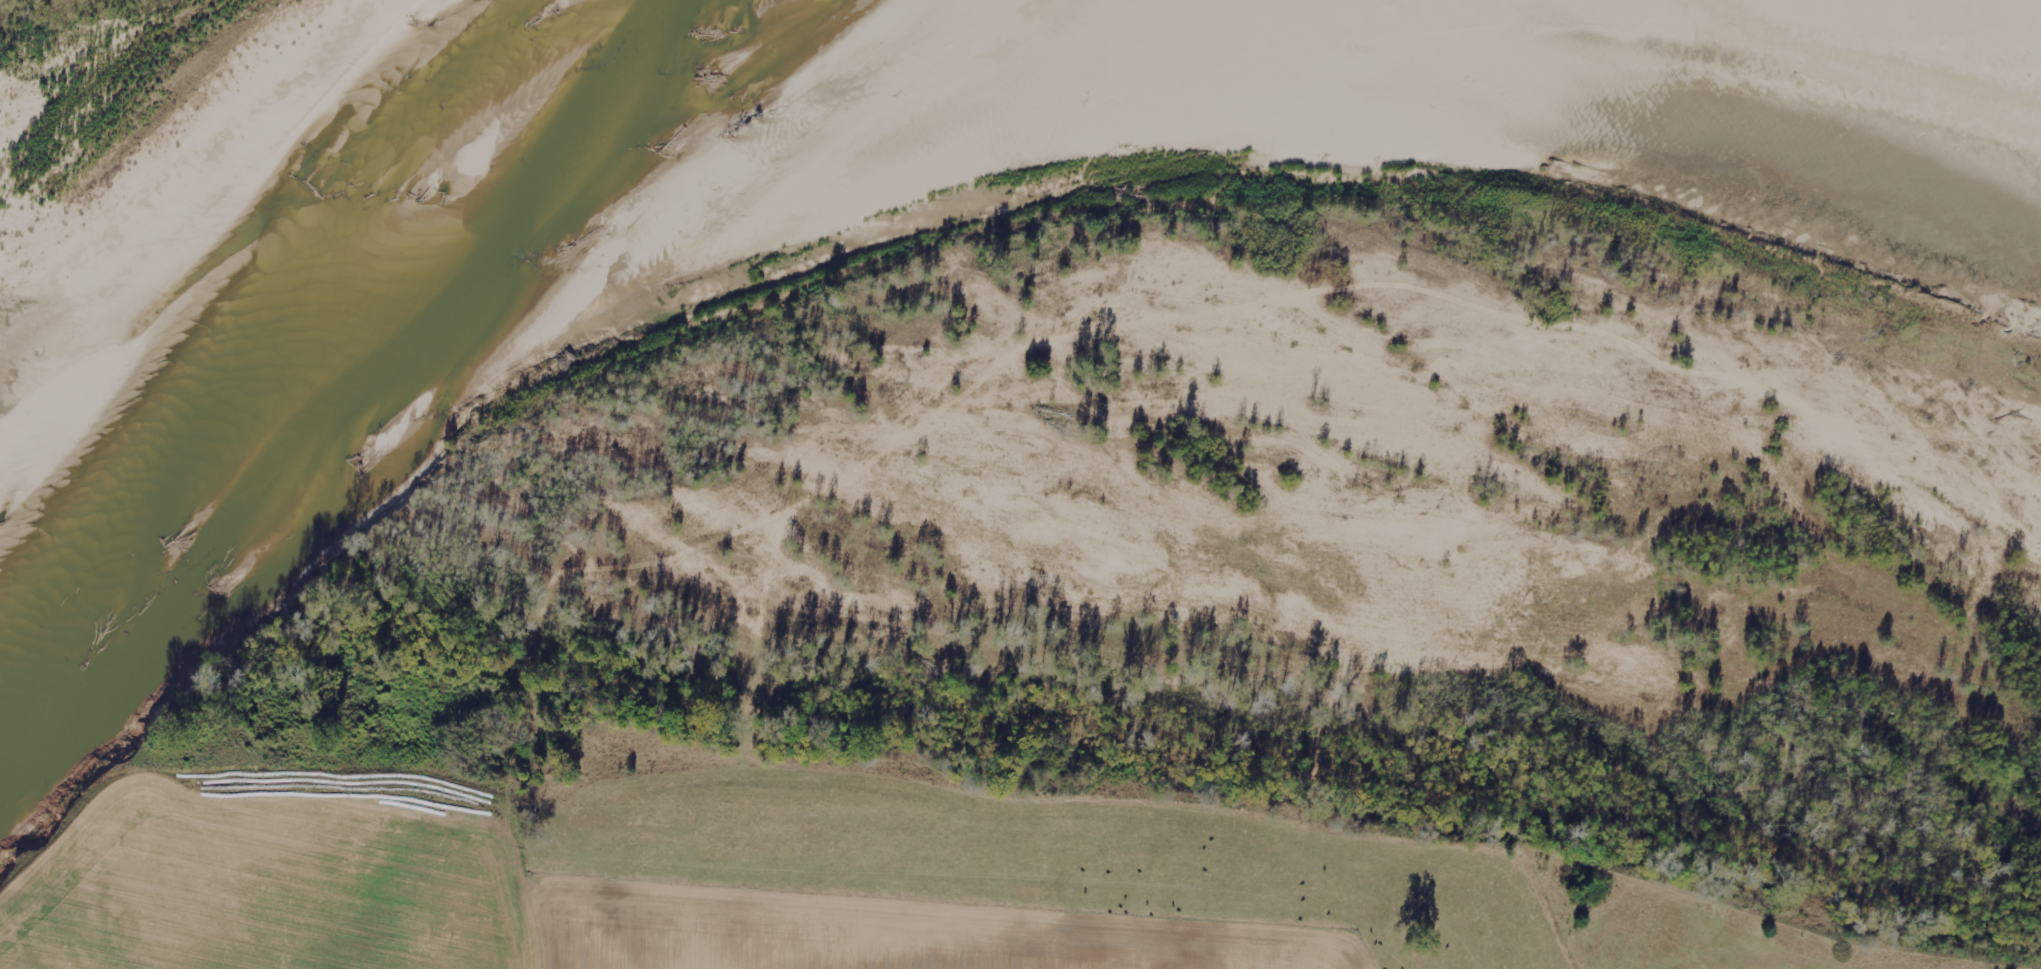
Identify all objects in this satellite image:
river: (1852, 151)

